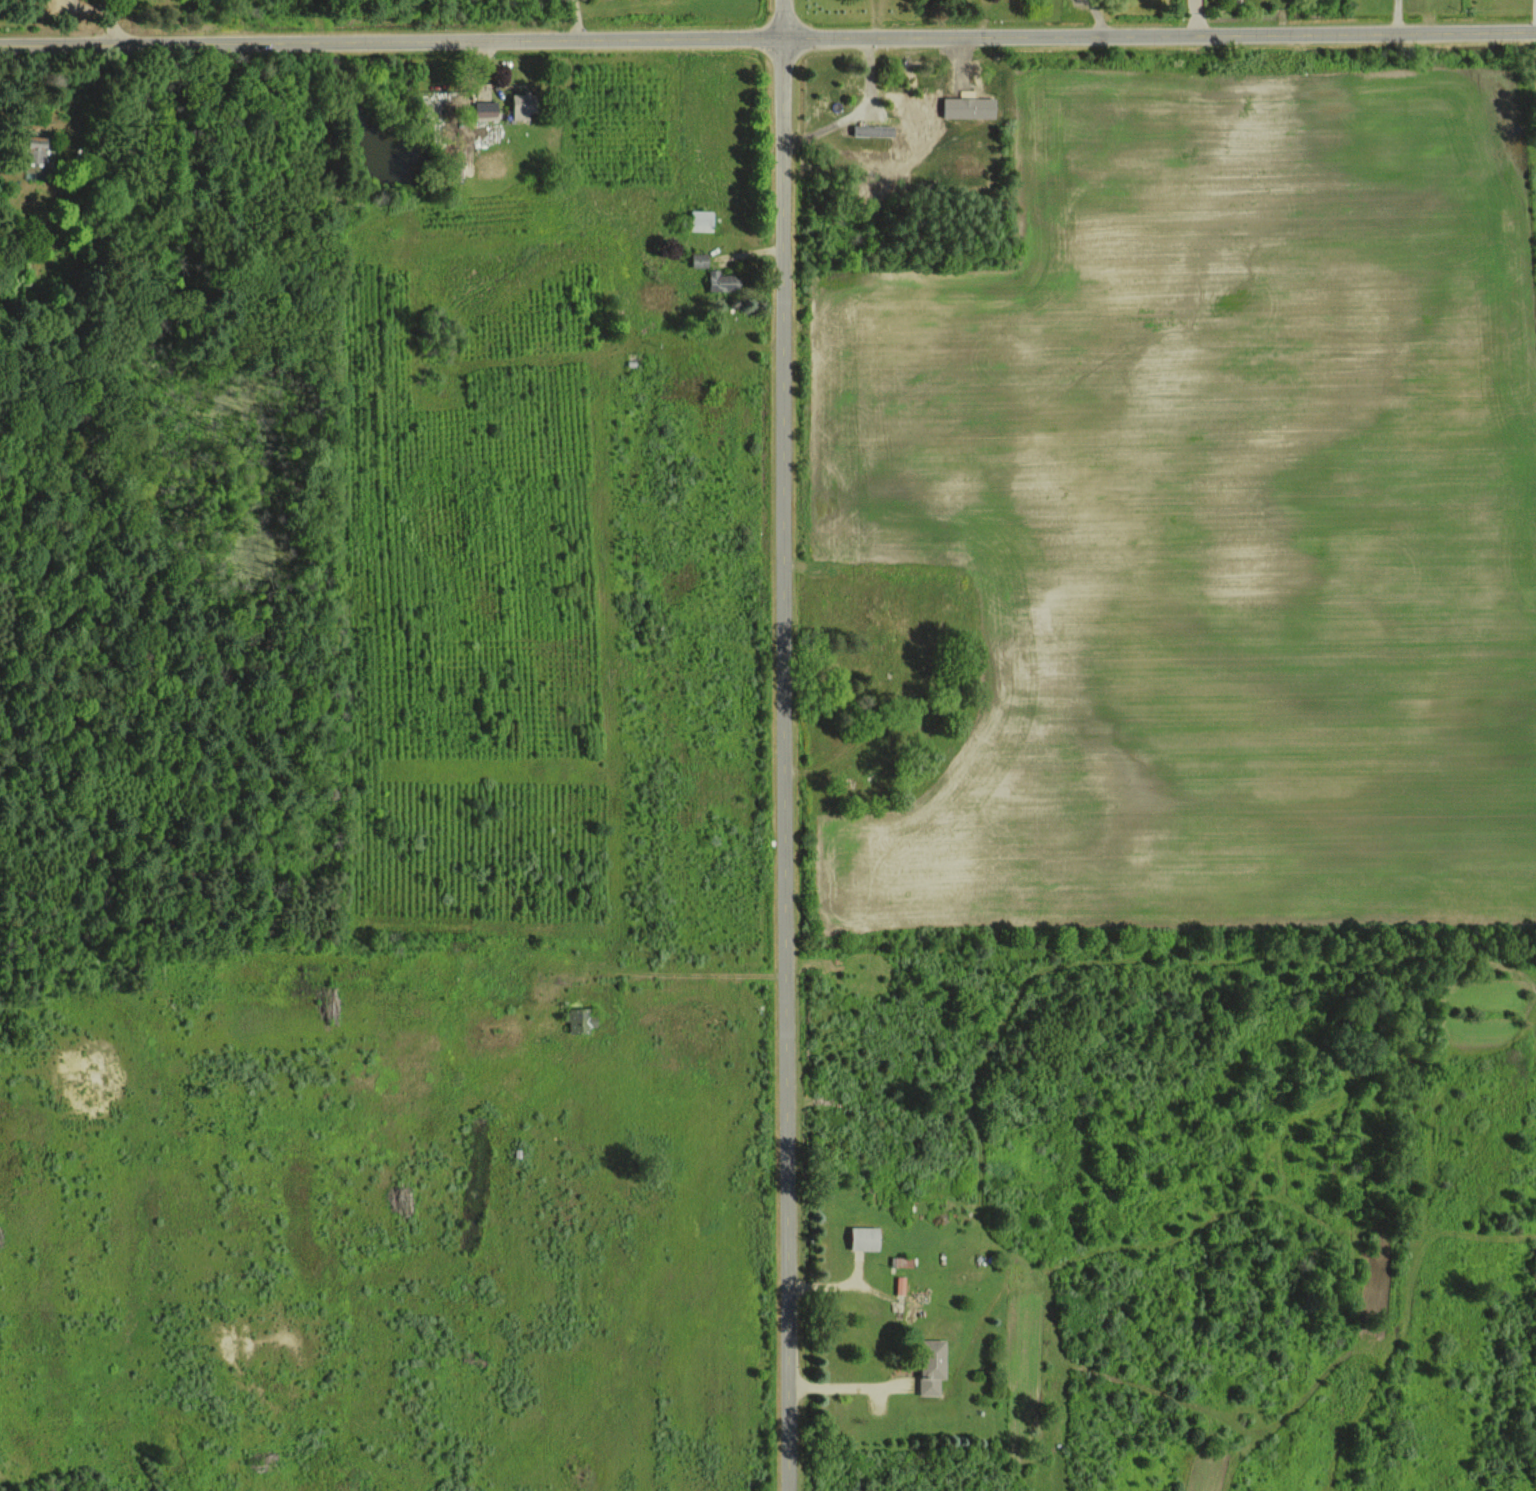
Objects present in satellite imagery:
road: (1100, 18)
road: (576, 19)
road: (768, 40)
building: (522, 104)
building: (969, 107)
building: (486, 108)
building: (873, 130)
building: (34, 149)
building: (701, 220)
building: (699, 259)
building: (726, 278)
road: (786, 745)
road: (674, 975)
building: (578, 1021)
building: (865, 1238)
building: (932, 1365)
road: (849, 1379)

